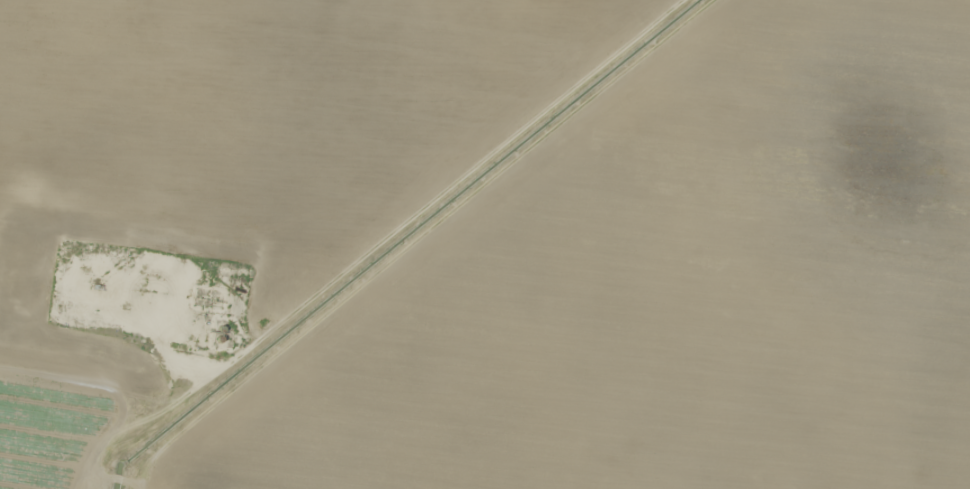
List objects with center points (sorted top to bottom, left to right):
road: (340, 217)
road: (450, 257)

